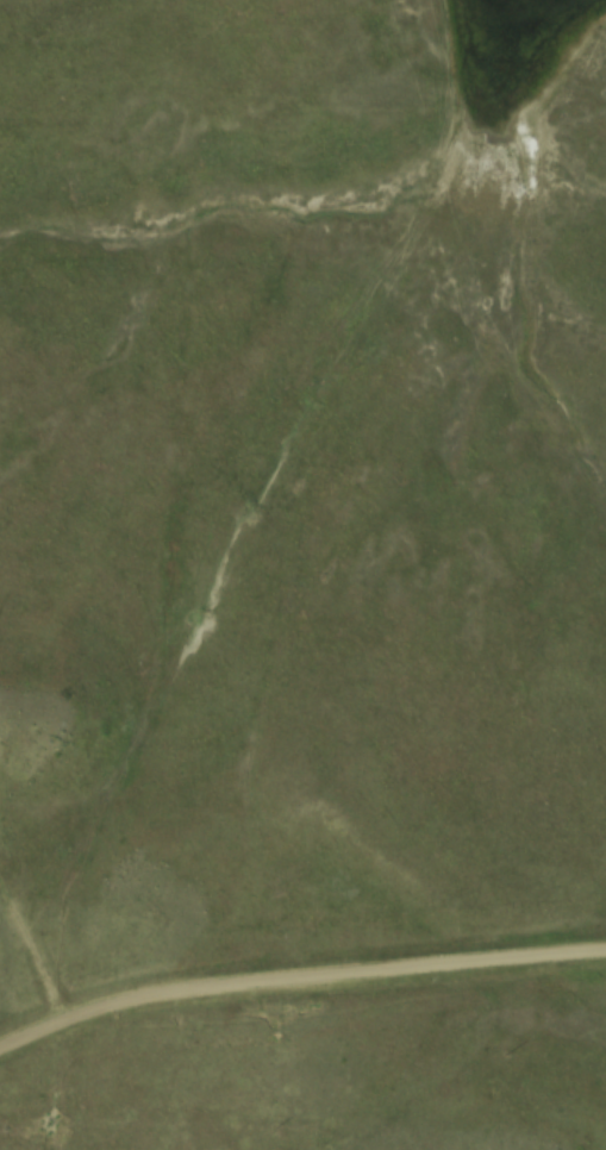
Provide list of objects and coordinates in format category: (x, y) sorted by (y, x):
road: (298, 979)

